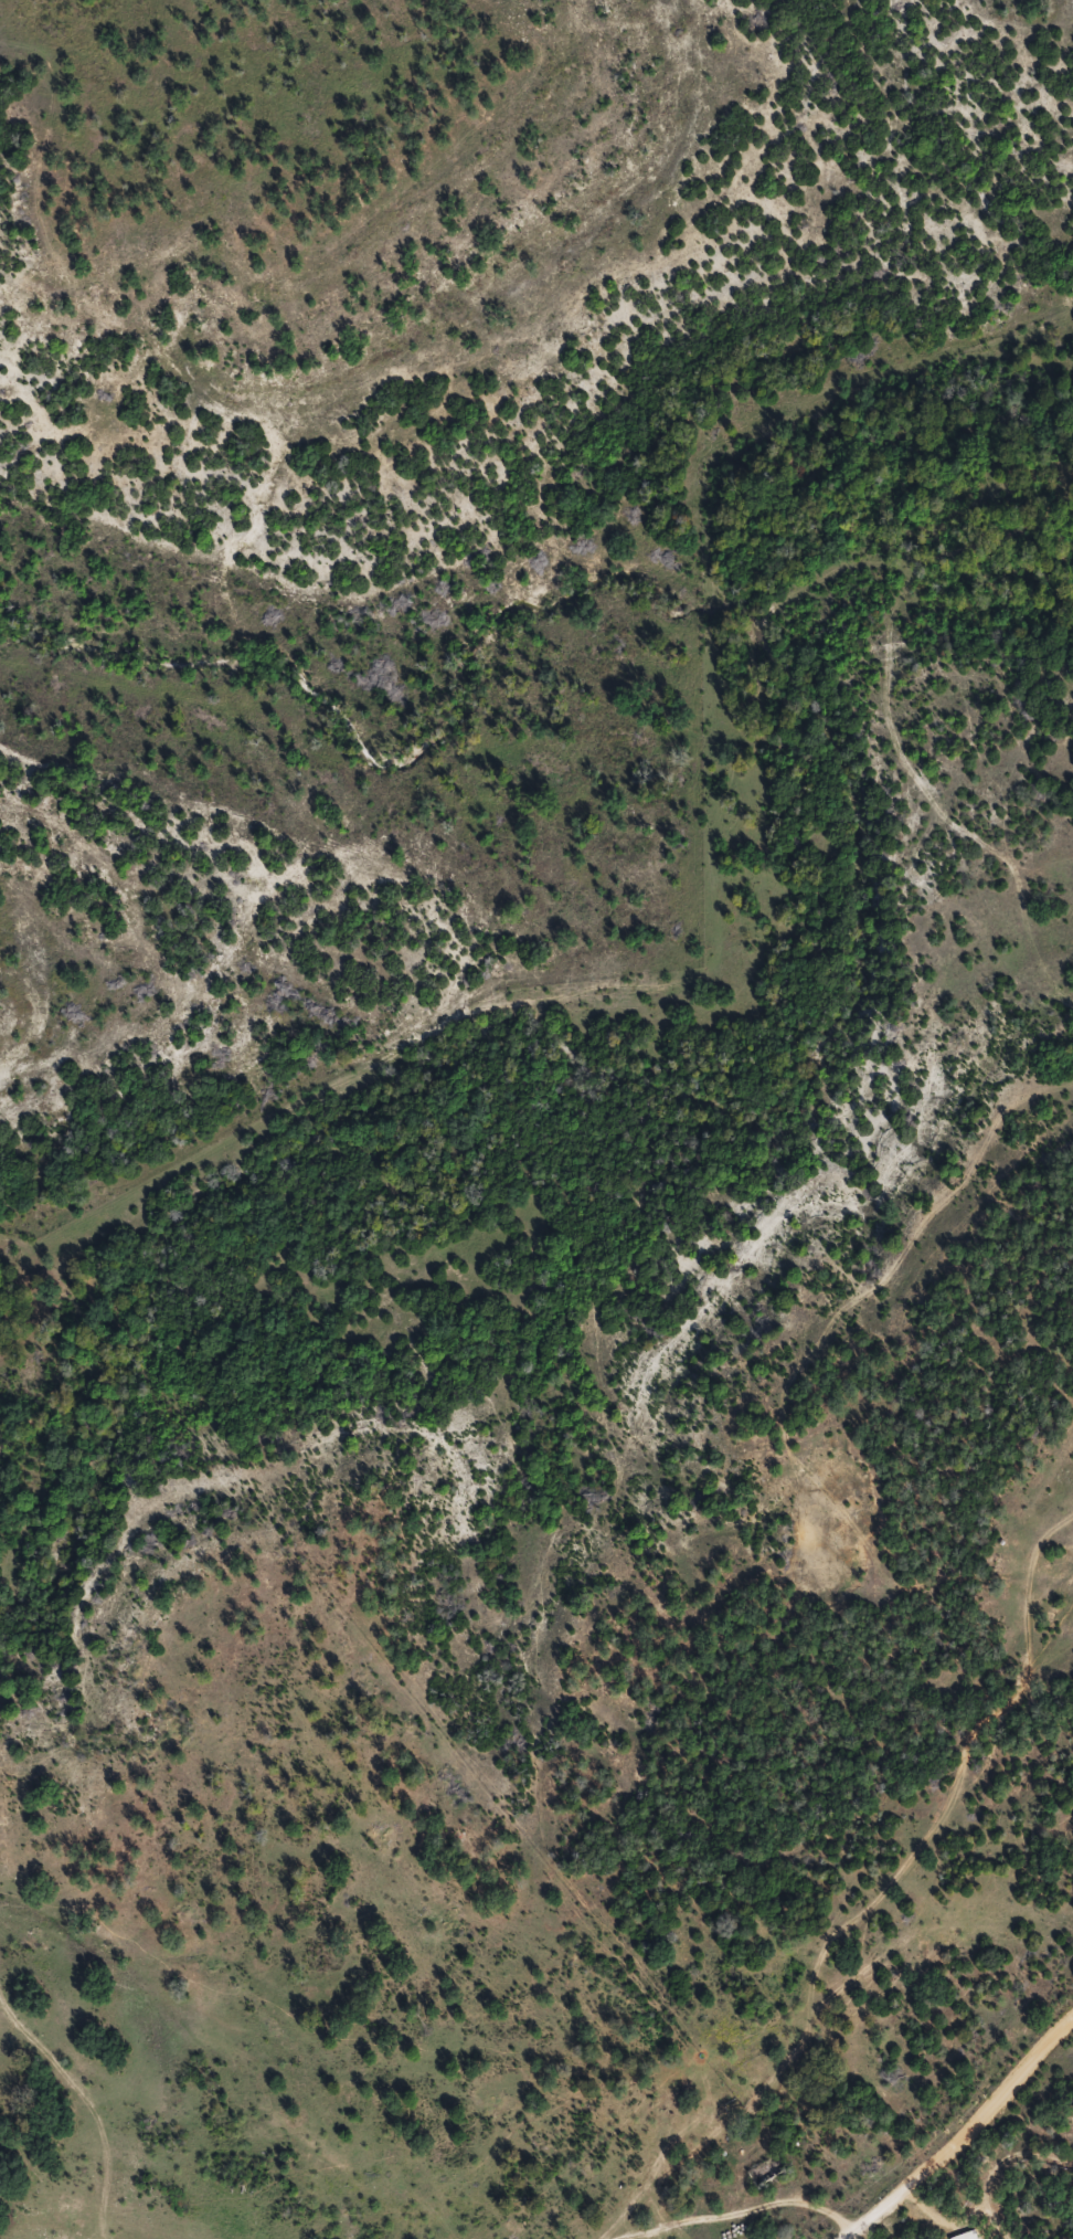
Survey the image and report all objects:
road: (962, 2141)

